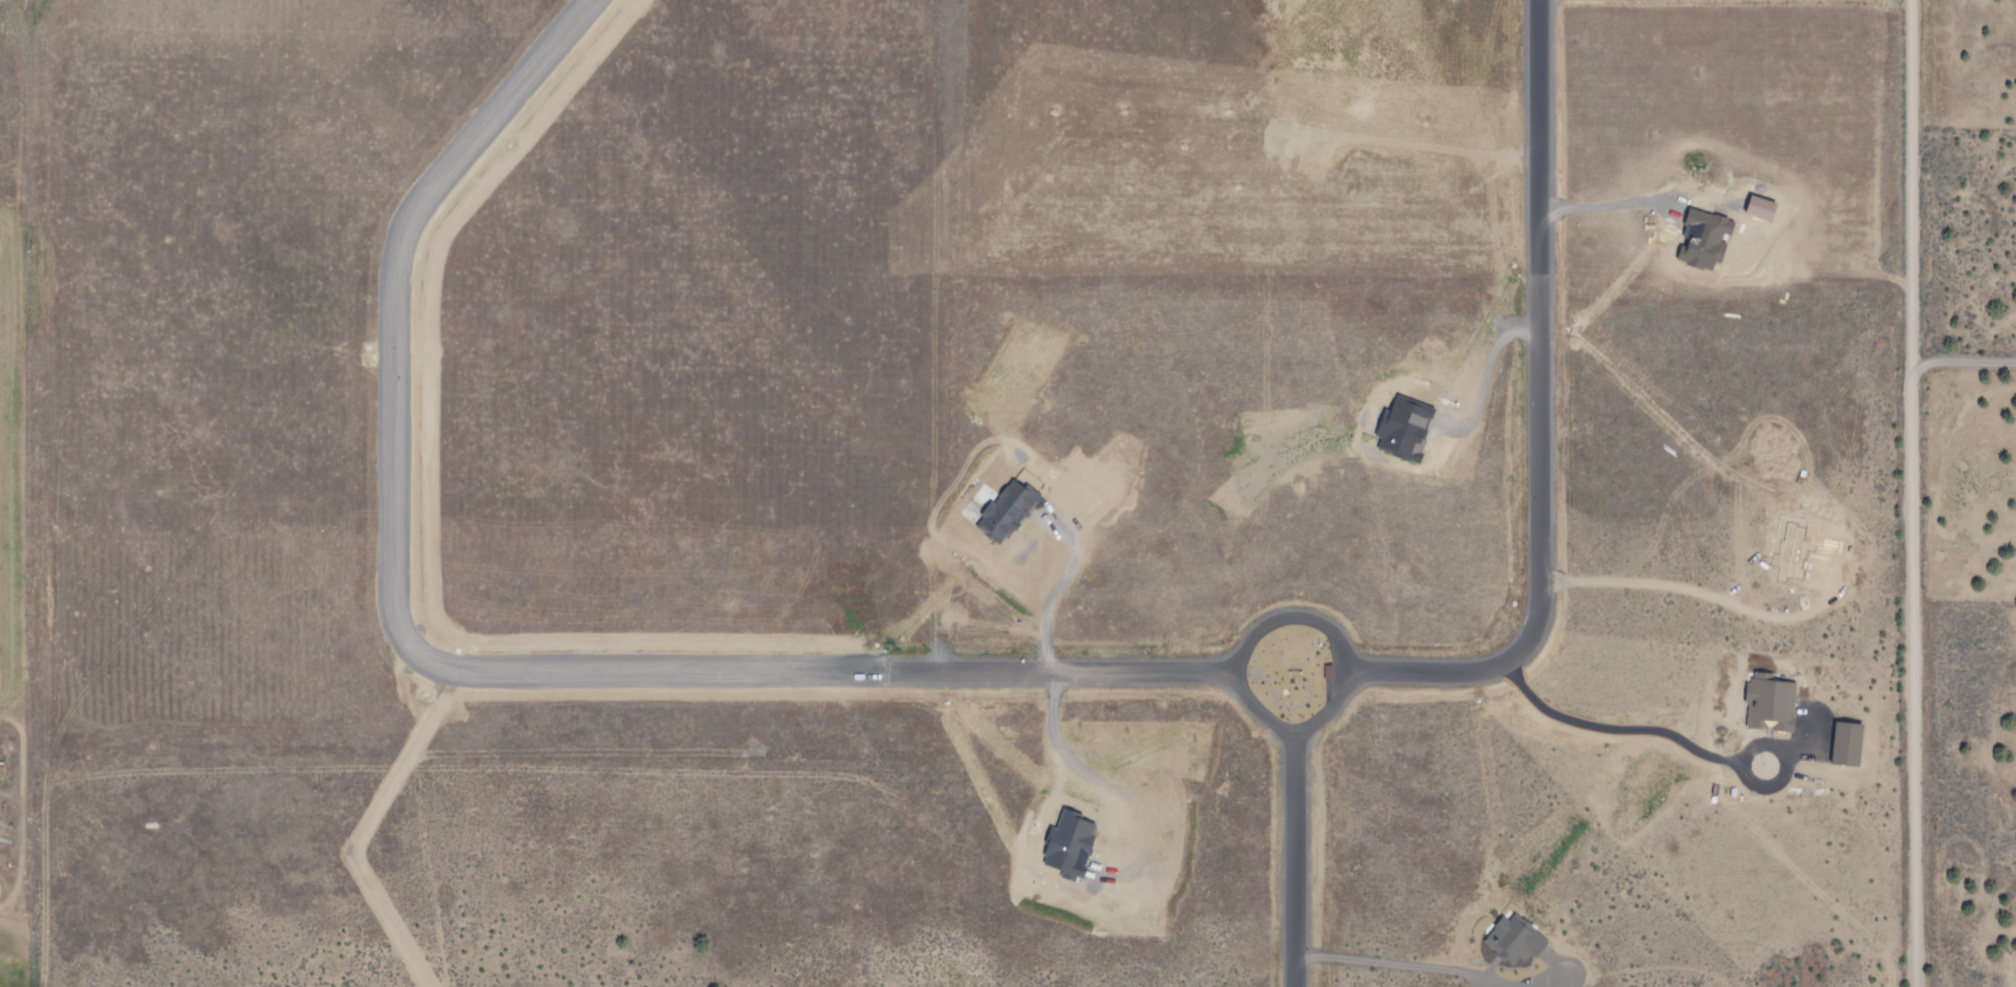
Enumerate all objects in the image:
building: (1702, 237)
building: (1405, 429)
road: (1912, 493)
road: (1483, 680)
road: (1141, 683)
building: (1771, 703)
building: (1848, 744)
building: (1070, 845)
building: (1515, 940)

